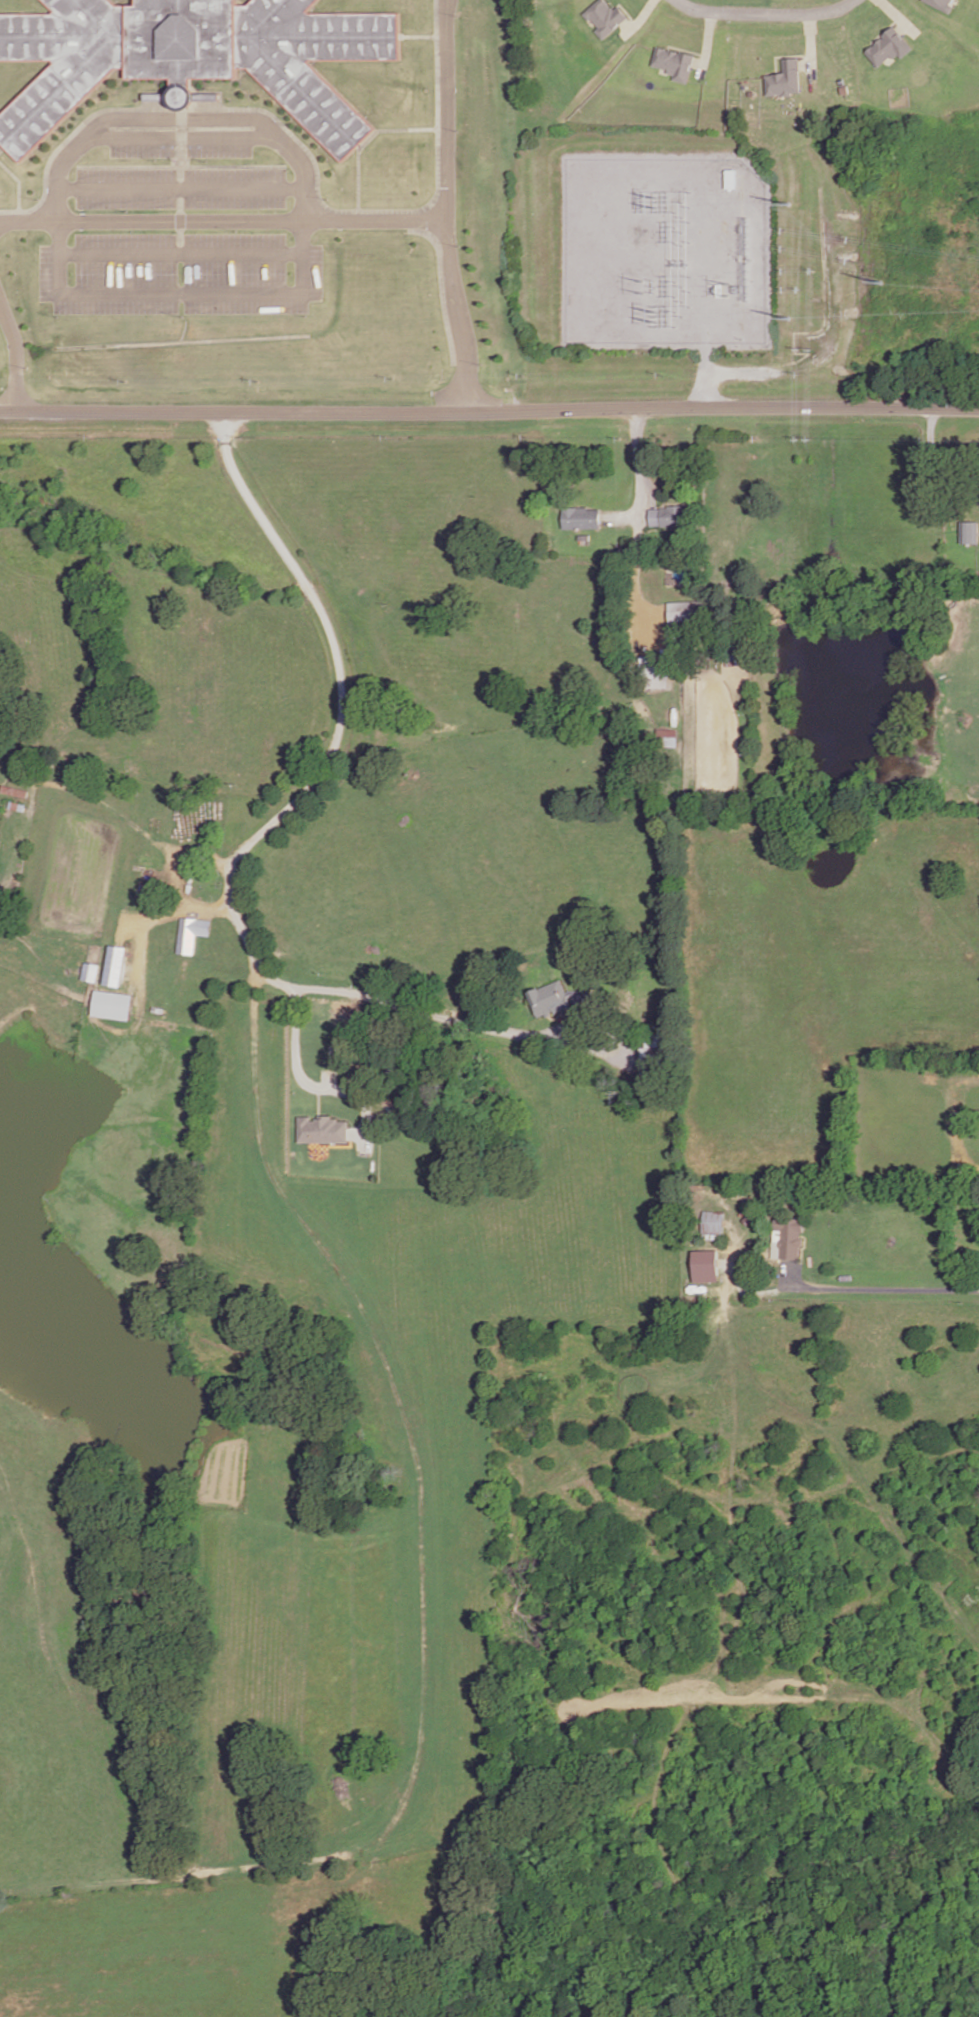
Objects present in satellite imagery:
building: (944, 3)
road: (764, 11)
street lamp: (456, 13)
building: (605, 15)
road: (900, 16)
road: (639, 18)
street lamp: (729, 19)
road: (885, 30)
road: (416, 38)
road: (707, 42)
road: (811, 42)
building: (891, 45)
road: (684, 48)
road: (785, 54)
building: (191, 58)
building: (673, 61)
building: (784, 77)
building: (846, 88)
road: (442, 111)
road: (363, 142)
road: (178, 145)
road: (2, 147)
road: (301, 150)
road: (178, 168)
building: (731, 178)
road: (17, 185)
road: (176, 190)
road: (220, 223)
road: (297, 223)
parking lot: (179, 231)
power substation: (663, 249)
road: (177, 255)
road: (456, 317)
road: (13, 356)
road: (704, 380)
road: (489, 412)
road: (932, 466)
road: (639, 474)
building: (670, 517)
building: (579, 520)
building: (970, 531)
road: (633, 581)
building: (686, 622)
building: (735, 659)
building: (659, 677)
road: (339, 717)
building: (667, 737)
building: (13, 793)
road: (122, 819)
road: (162, 917)
building: (191, 935)
building: (116, 968)
building: (90, 973)
building: (545, 998)
road: (425, 1015)
building: (647, 1059)
road: (307, 1084)
road: (952, 1093)
road: (317, 1102)
building: (322, 1131)
road: (340, 1147)
building: (708, 1222)
building: (784, 1236)
building: (705, 1265)
road: (875, 1289)
road: (421, 1579)

